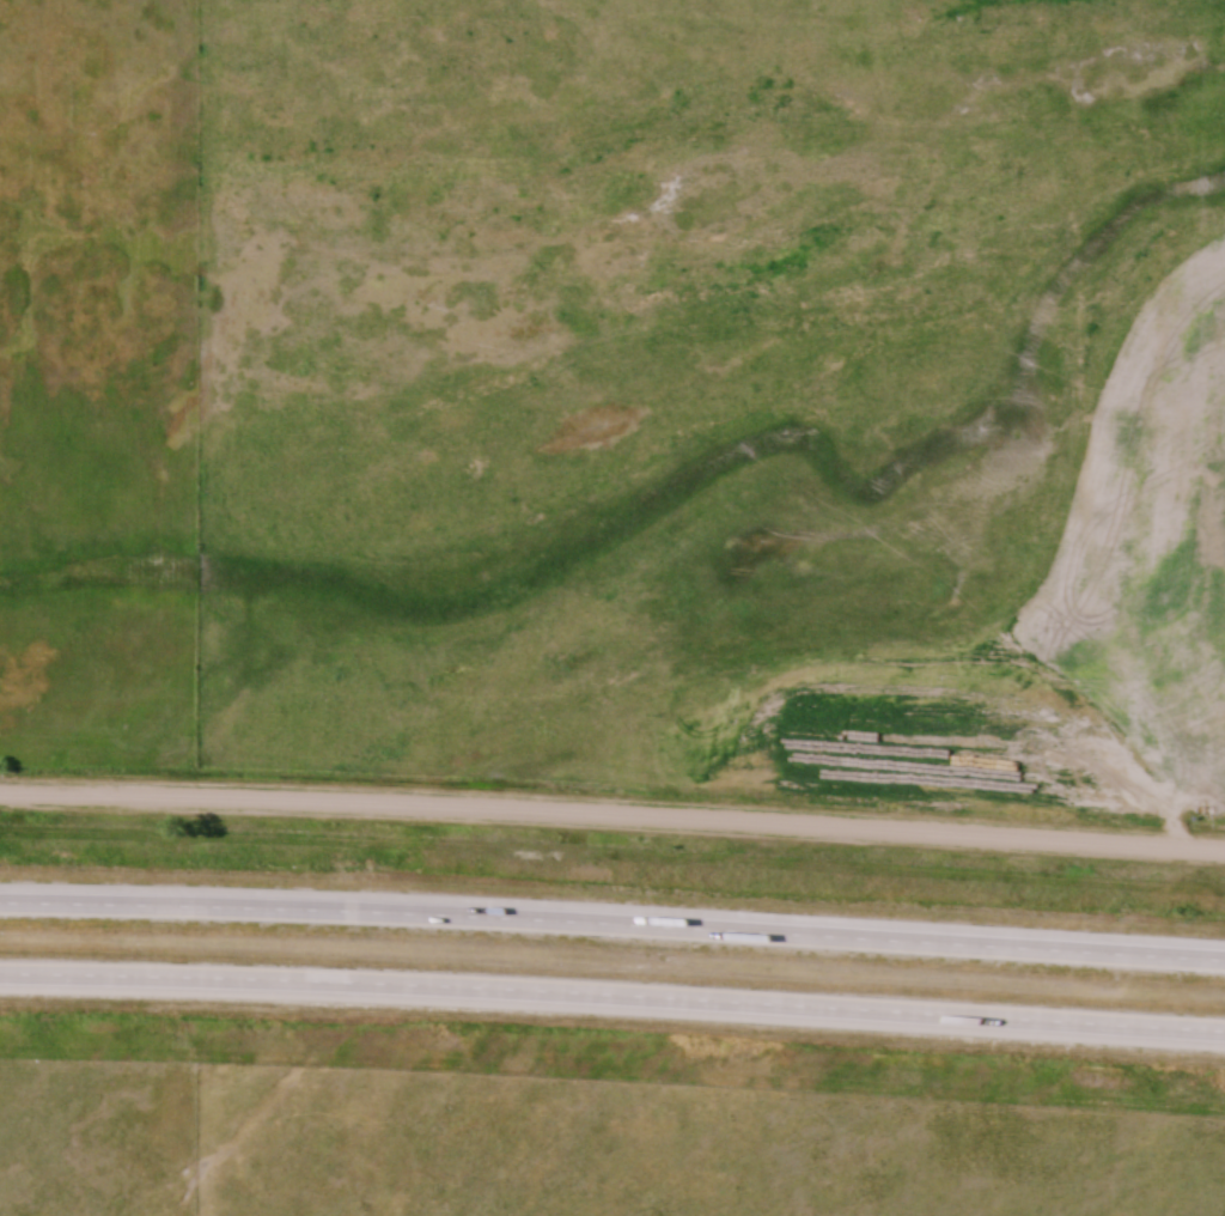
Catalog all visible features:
road: (612, 816)
road: (612, 922)
road: (612, 993)

